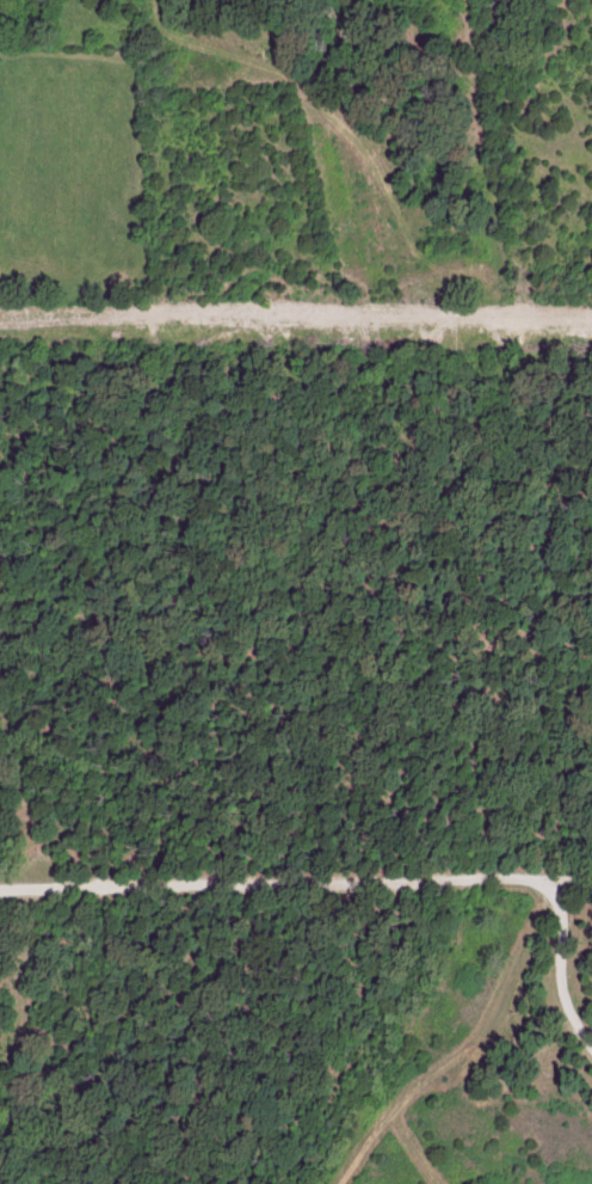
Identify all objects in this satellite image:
road: (266, 887)
road: (556, 932)

